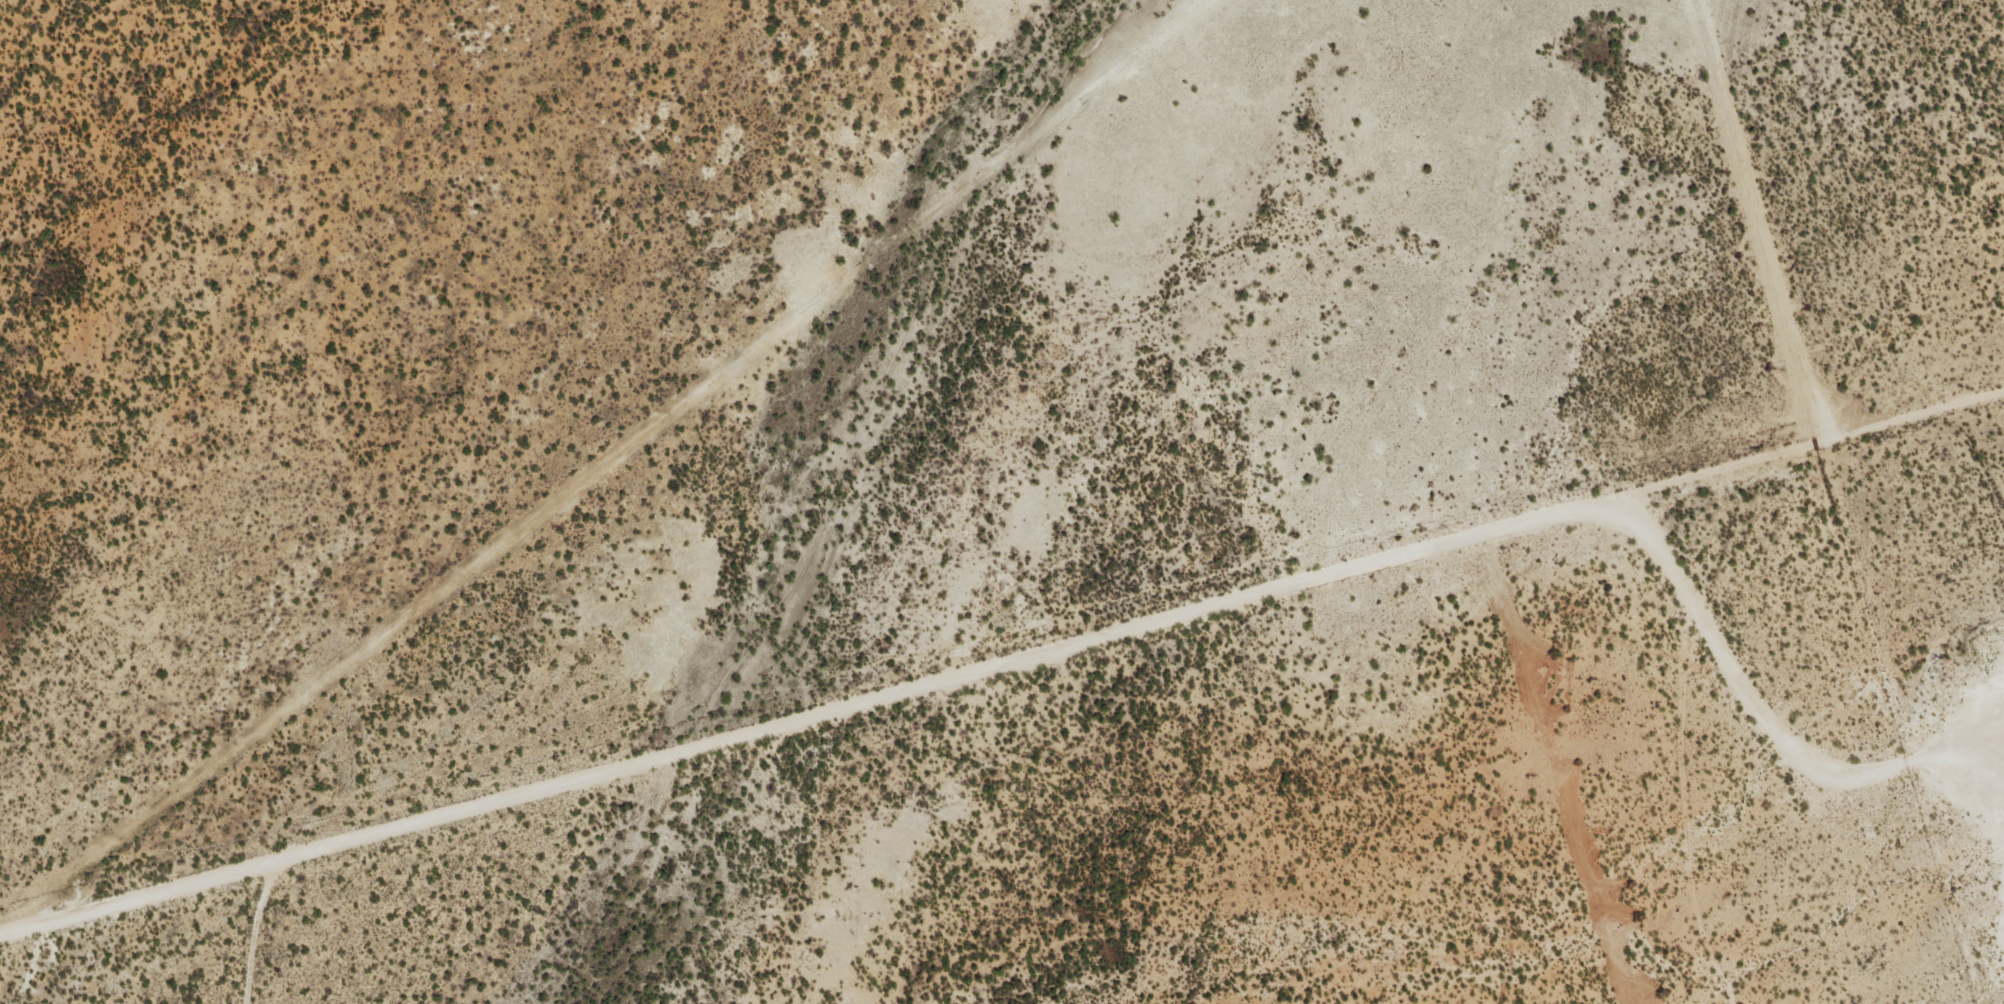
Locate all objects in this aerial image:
road: (530, 412)
road: (897, 426)
road: (1073, 643)
road: (140, 895)

